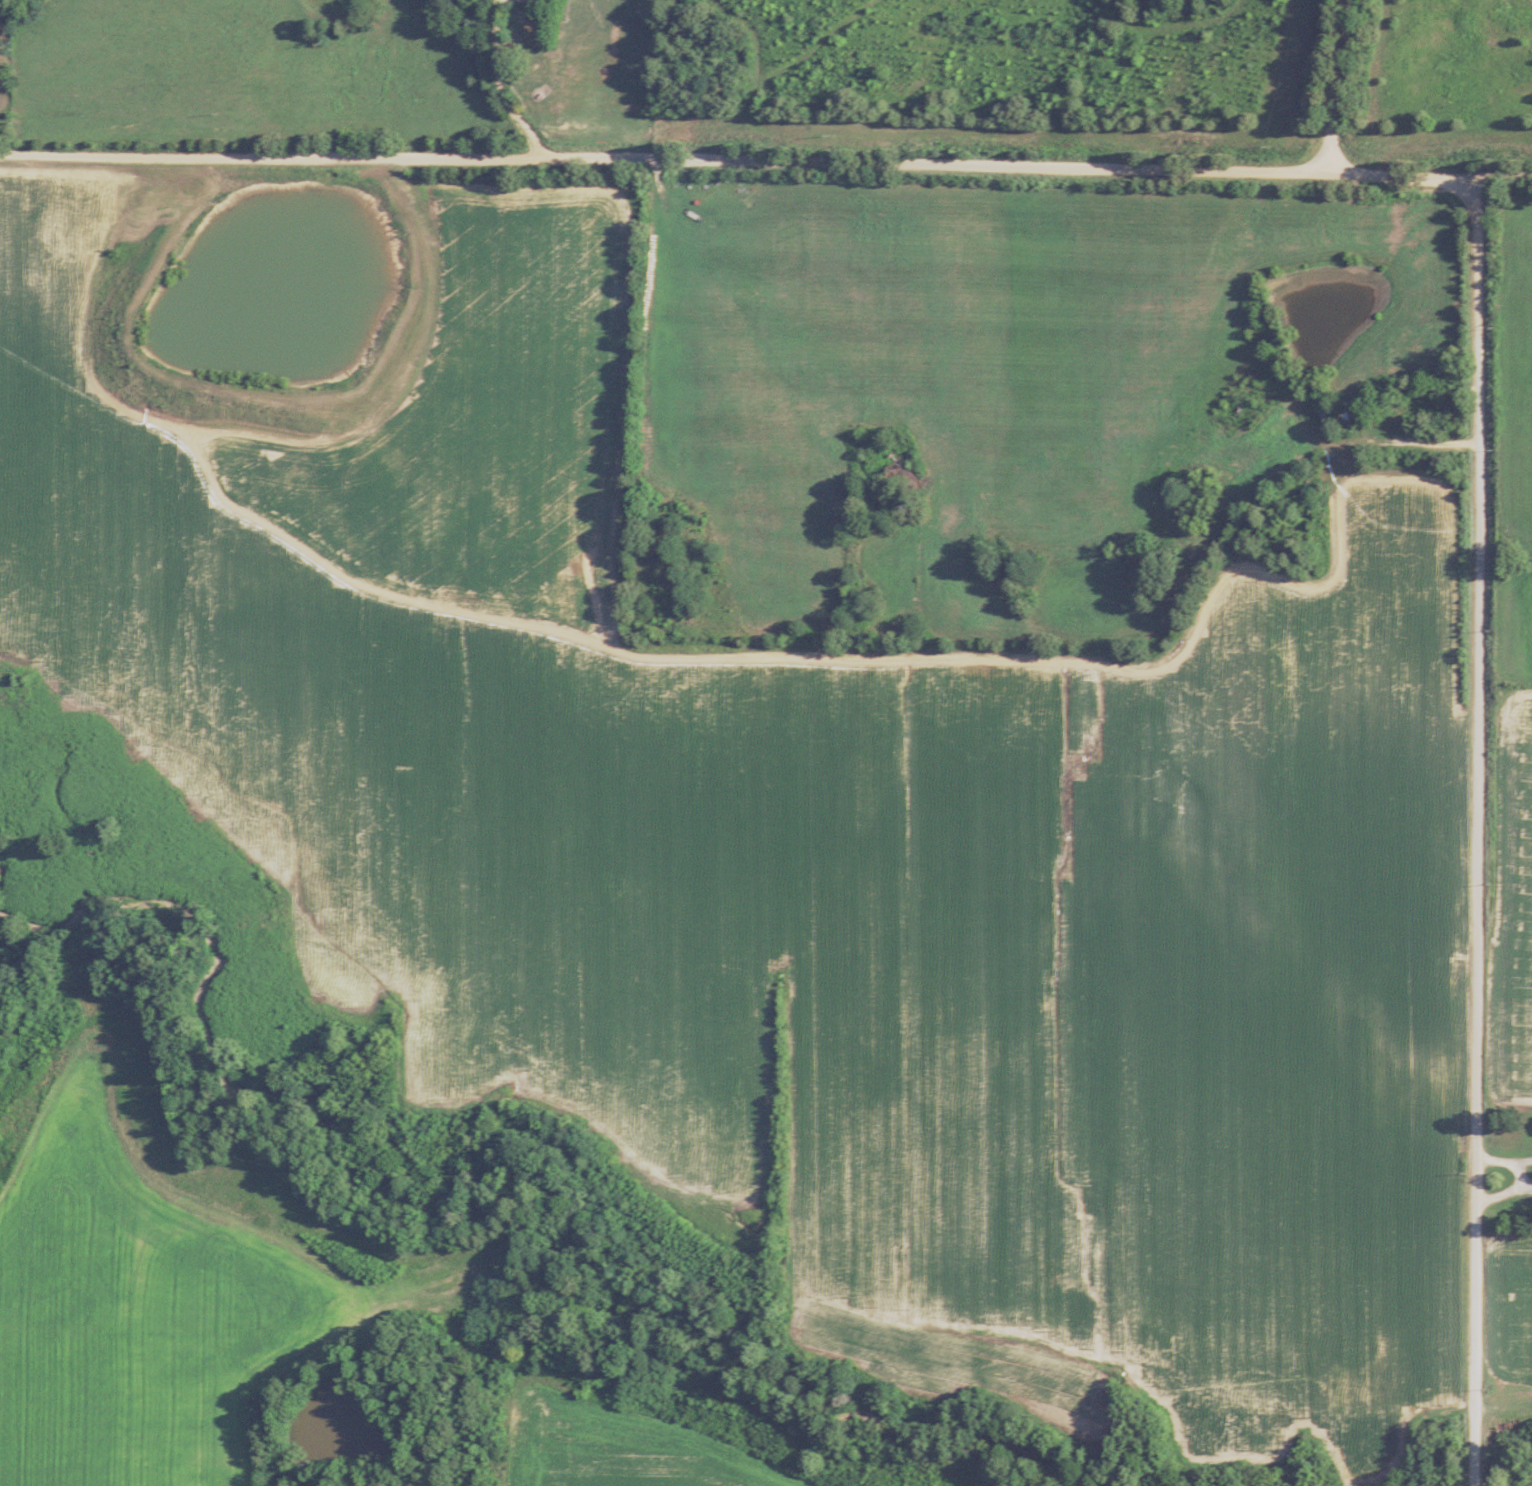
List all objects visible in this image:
road: (1335, 85)
road: (766, 162)
building: (1330, 409)
road: (1477, 834)

